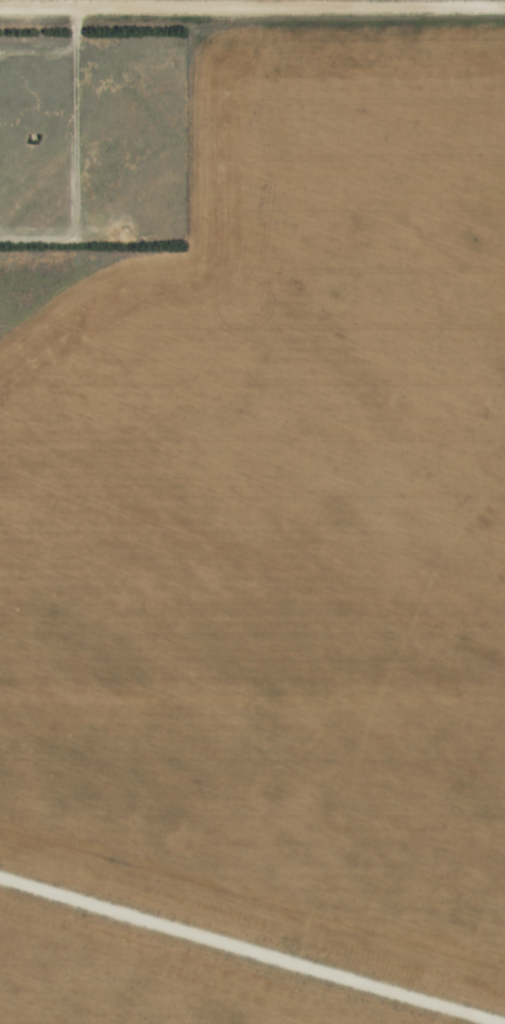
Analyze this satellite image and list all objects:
road: (252, 3)
park: (93, 137)

